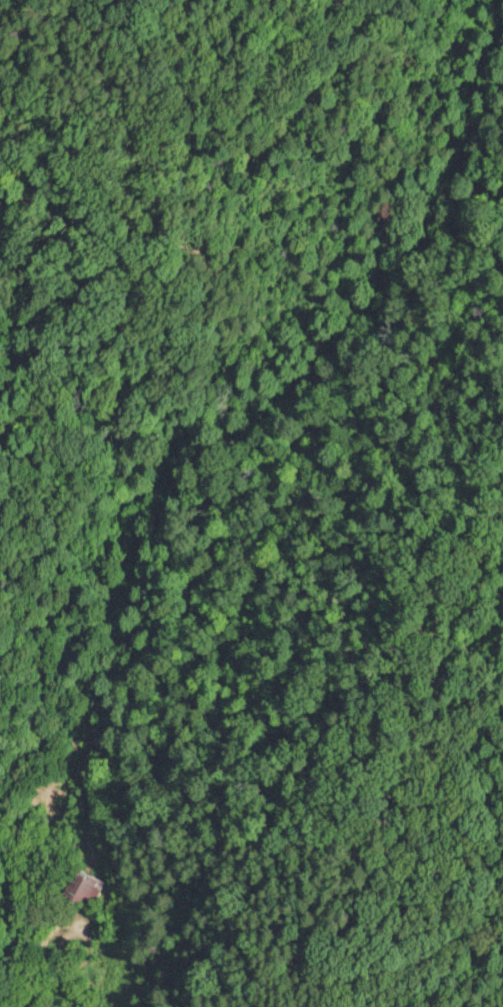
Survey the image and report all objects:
road: (249, 801)
building: (83, 886)
road: (480, 973)

